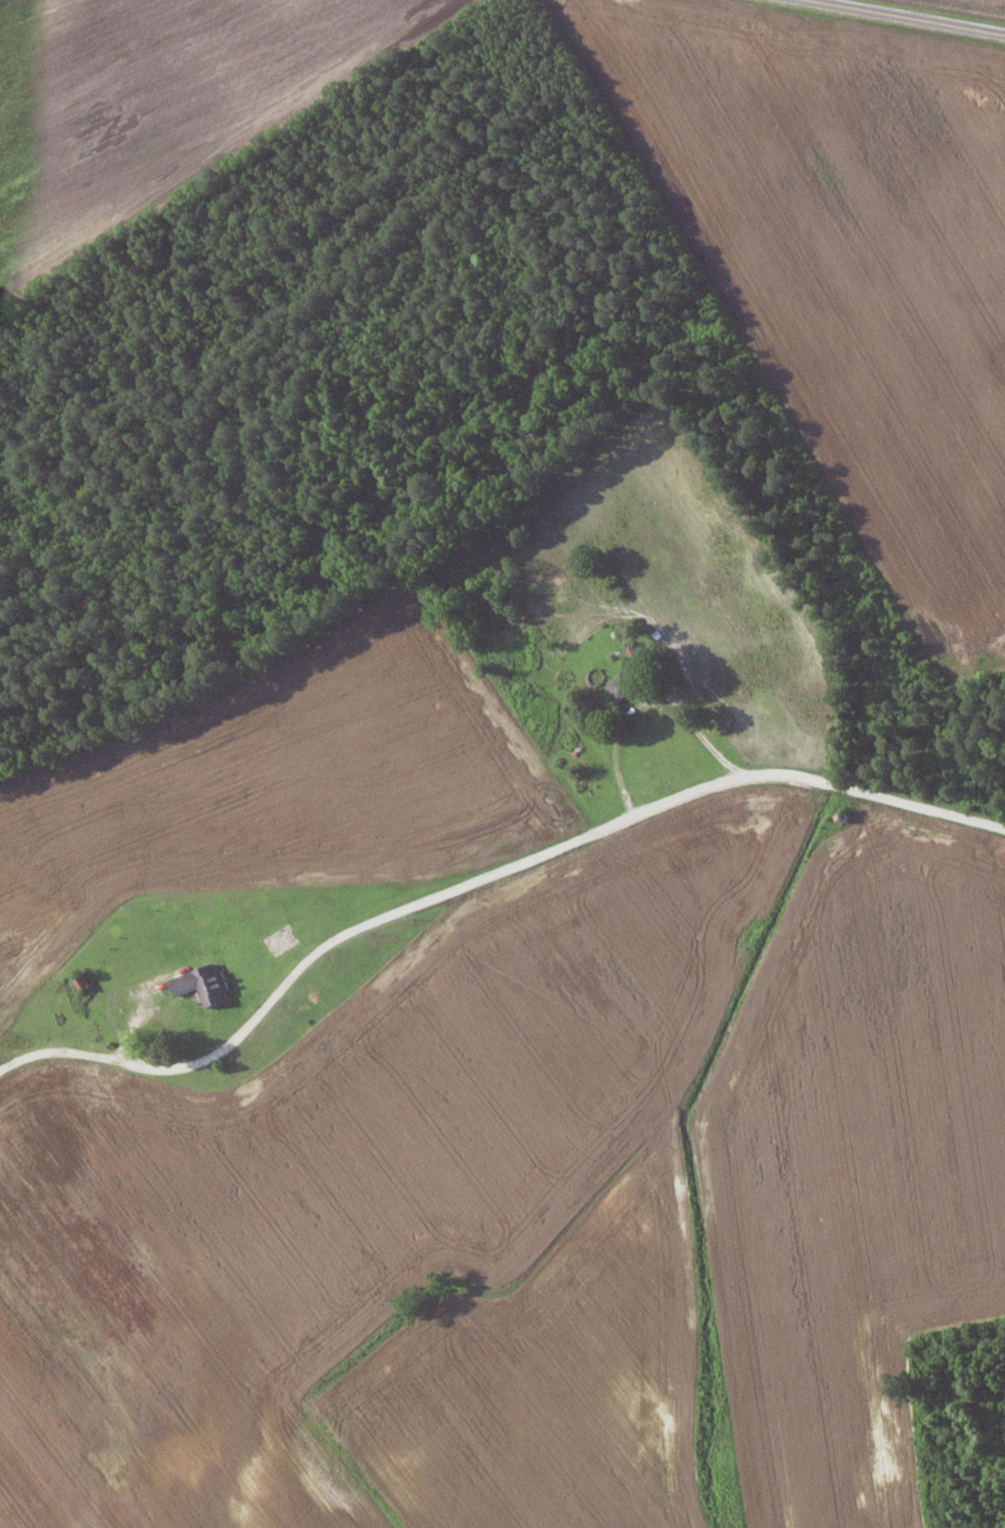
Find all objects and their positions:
road: (909, 16)
building: (623, 685)
road: (801, 782)
building: (203, 983)

